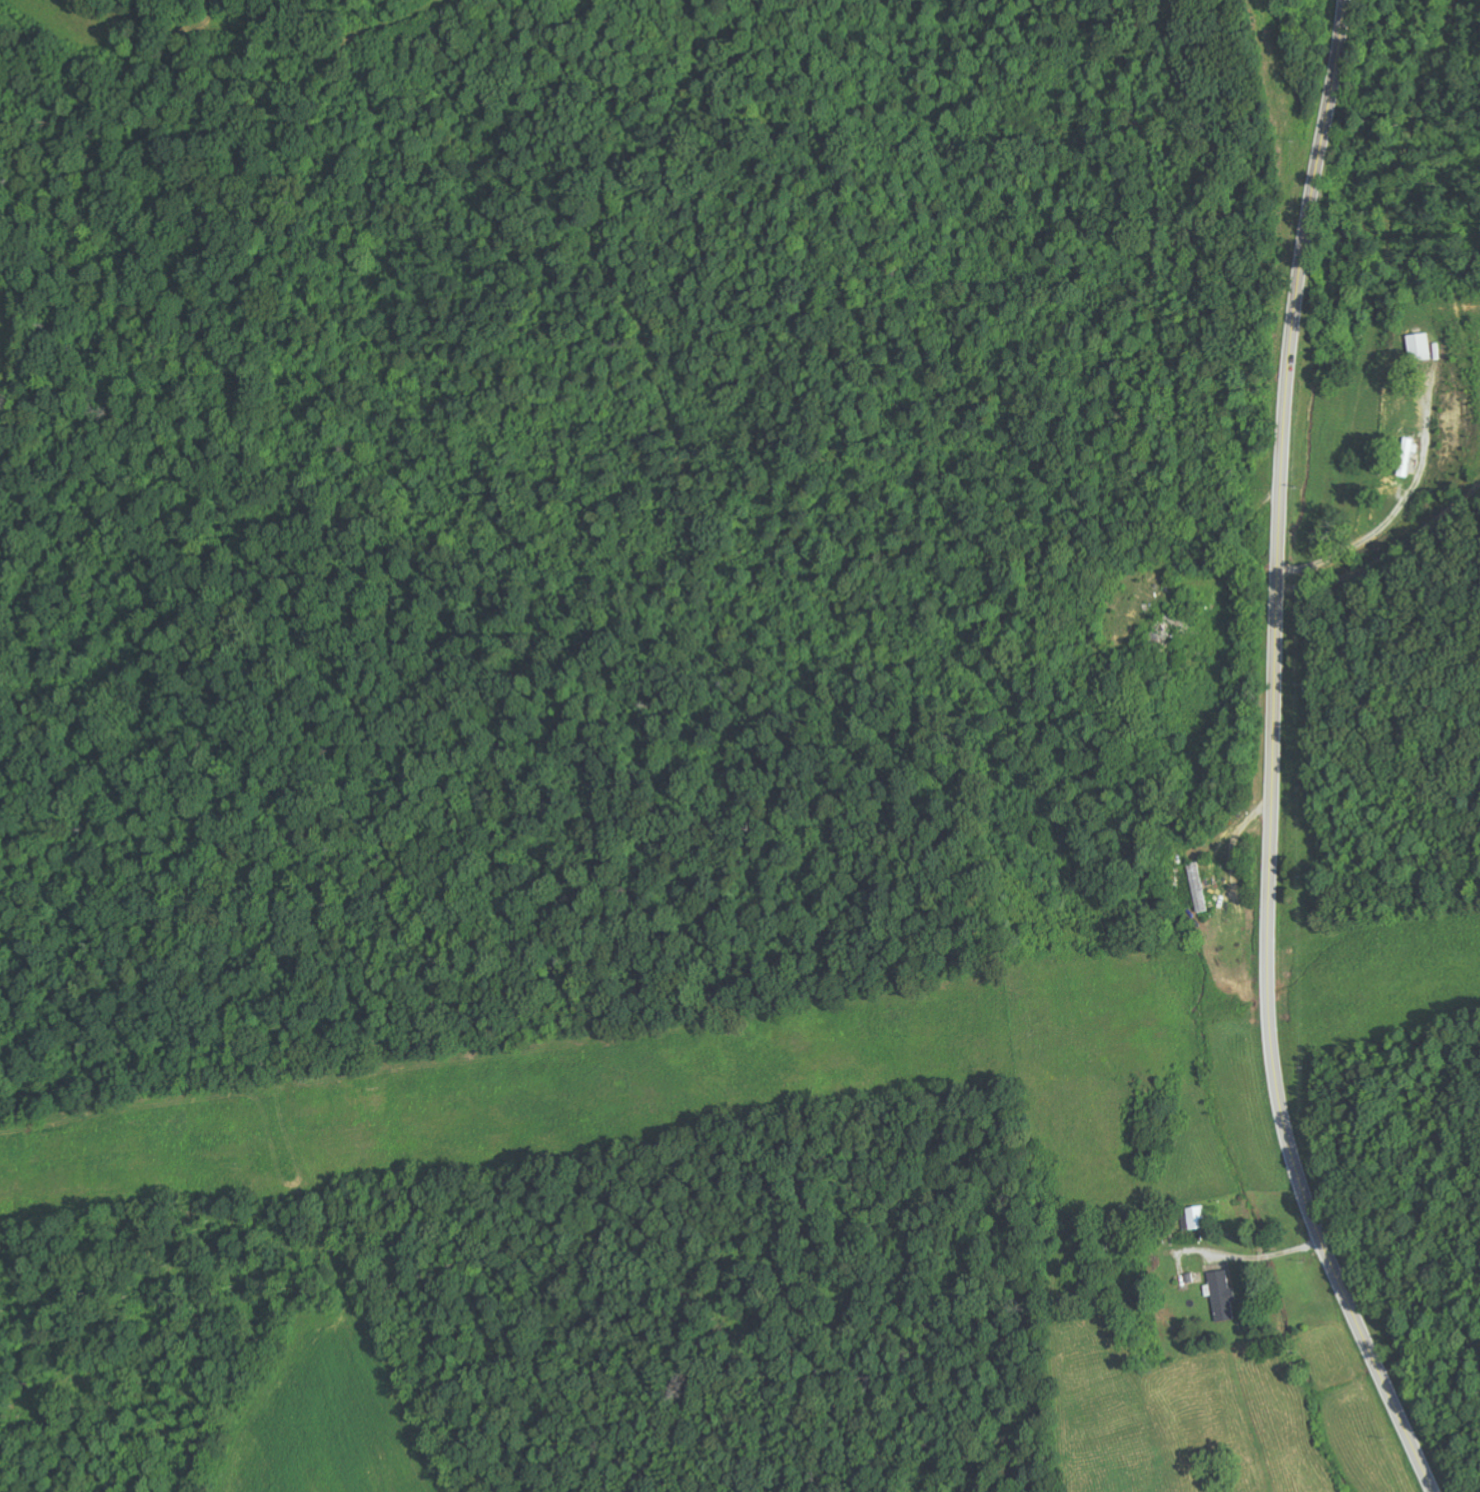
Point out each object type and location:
road: (1272, 759)
building: (1196, 886)
building: (1196, 1217)
building: (1221, 1295)

